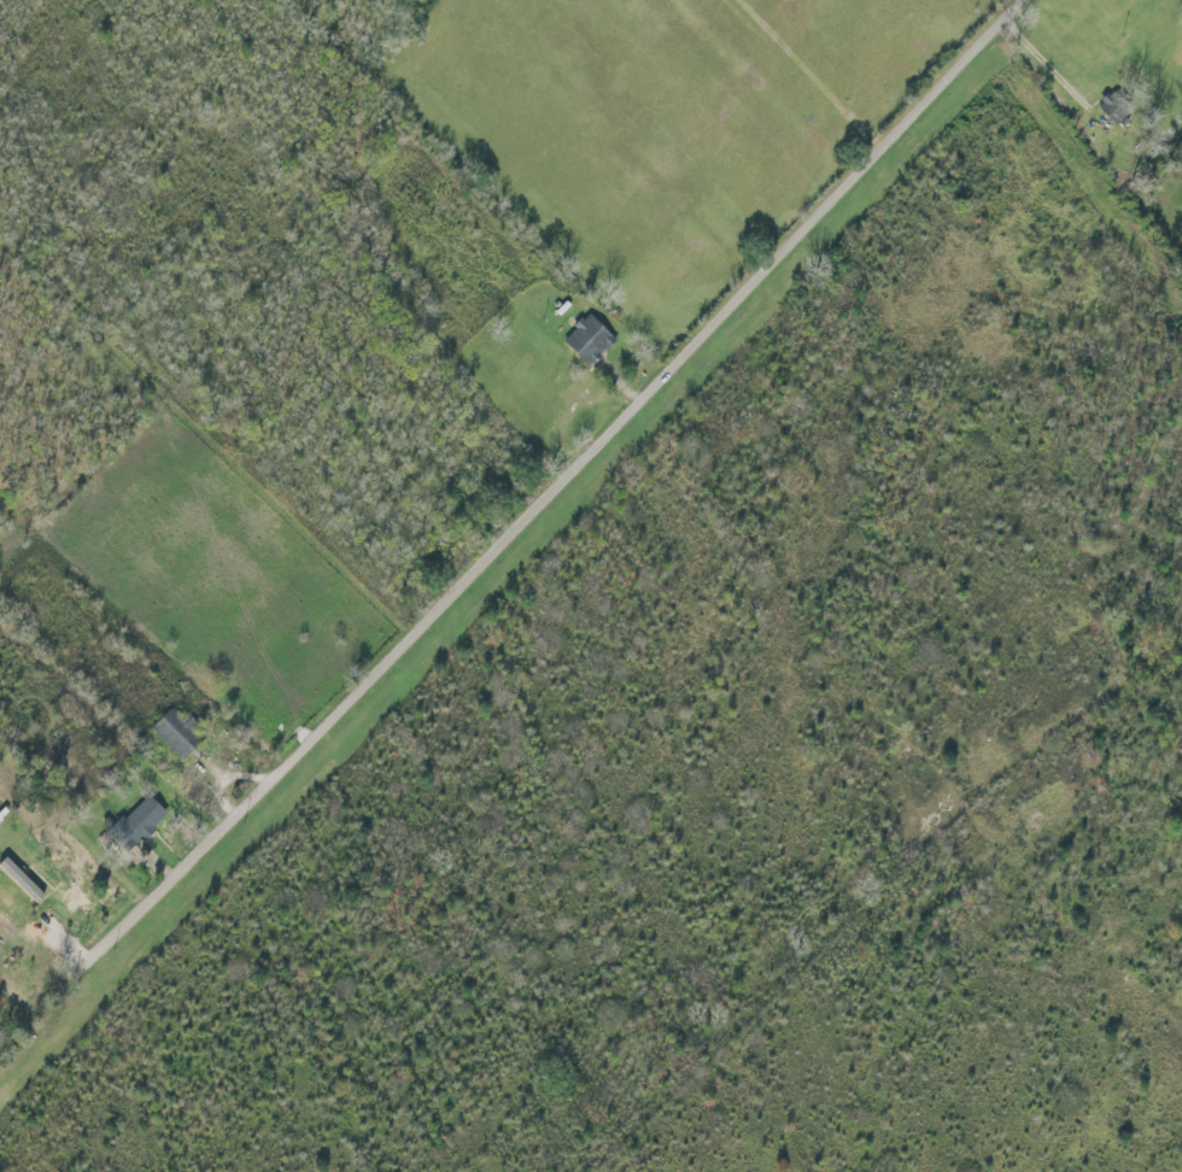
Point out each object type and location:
building: (595, 341)
road: (548, 494)
building: (183, 736)
building: (141, 827)
building: (75, 899)

